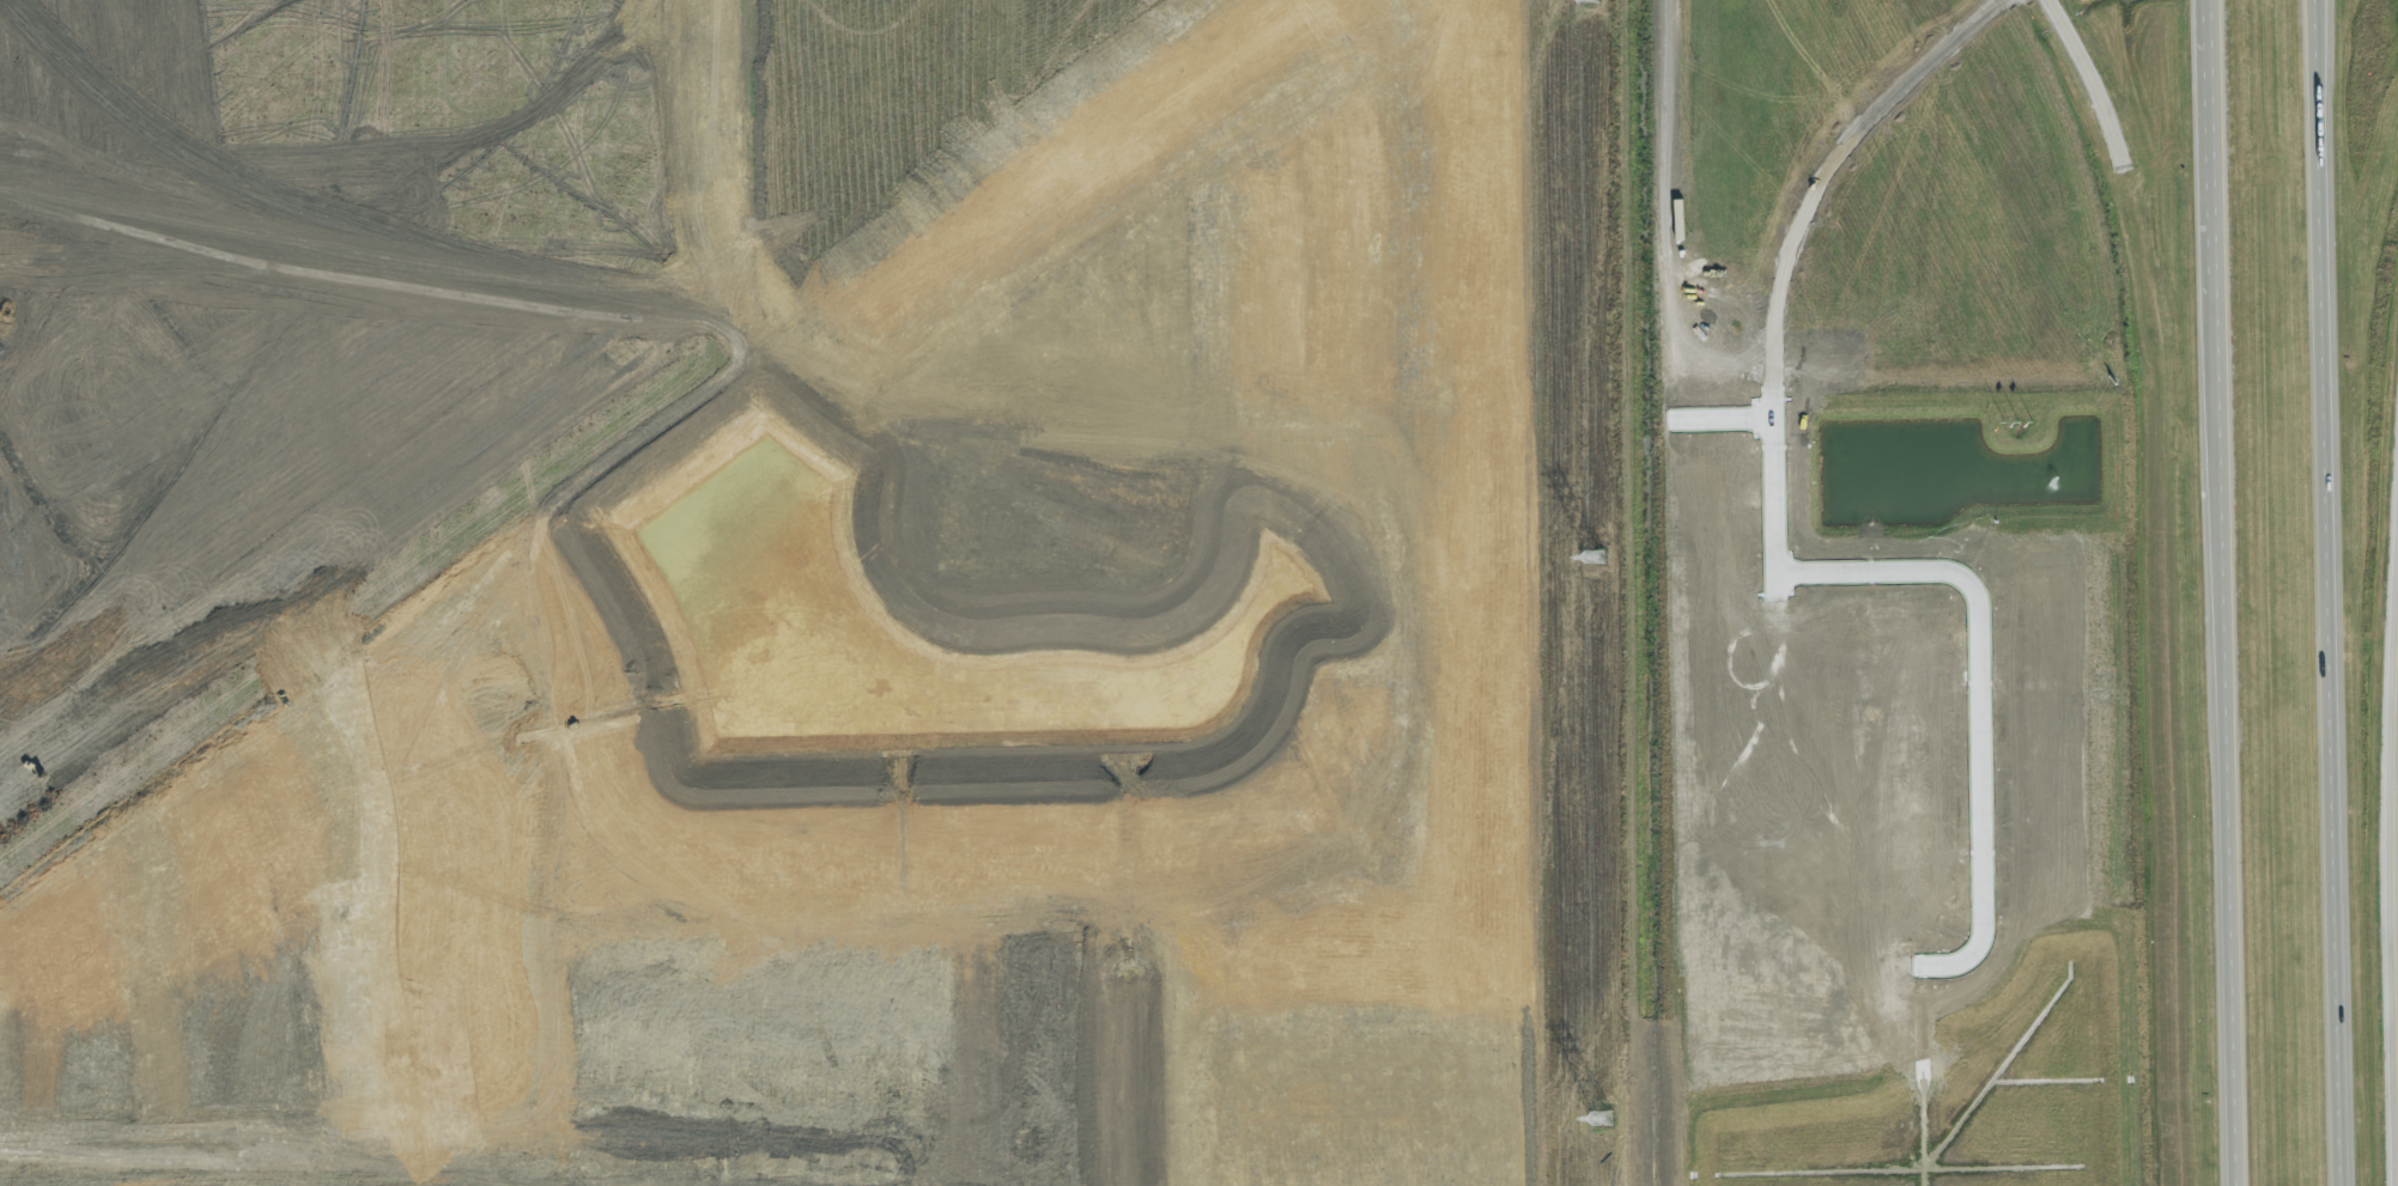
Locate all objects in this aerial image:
road: (2090, 80)
power tower: (1593, 556)
road: (2228, 592)
road: (2336, 592)
power tower: (1602, 1119)

